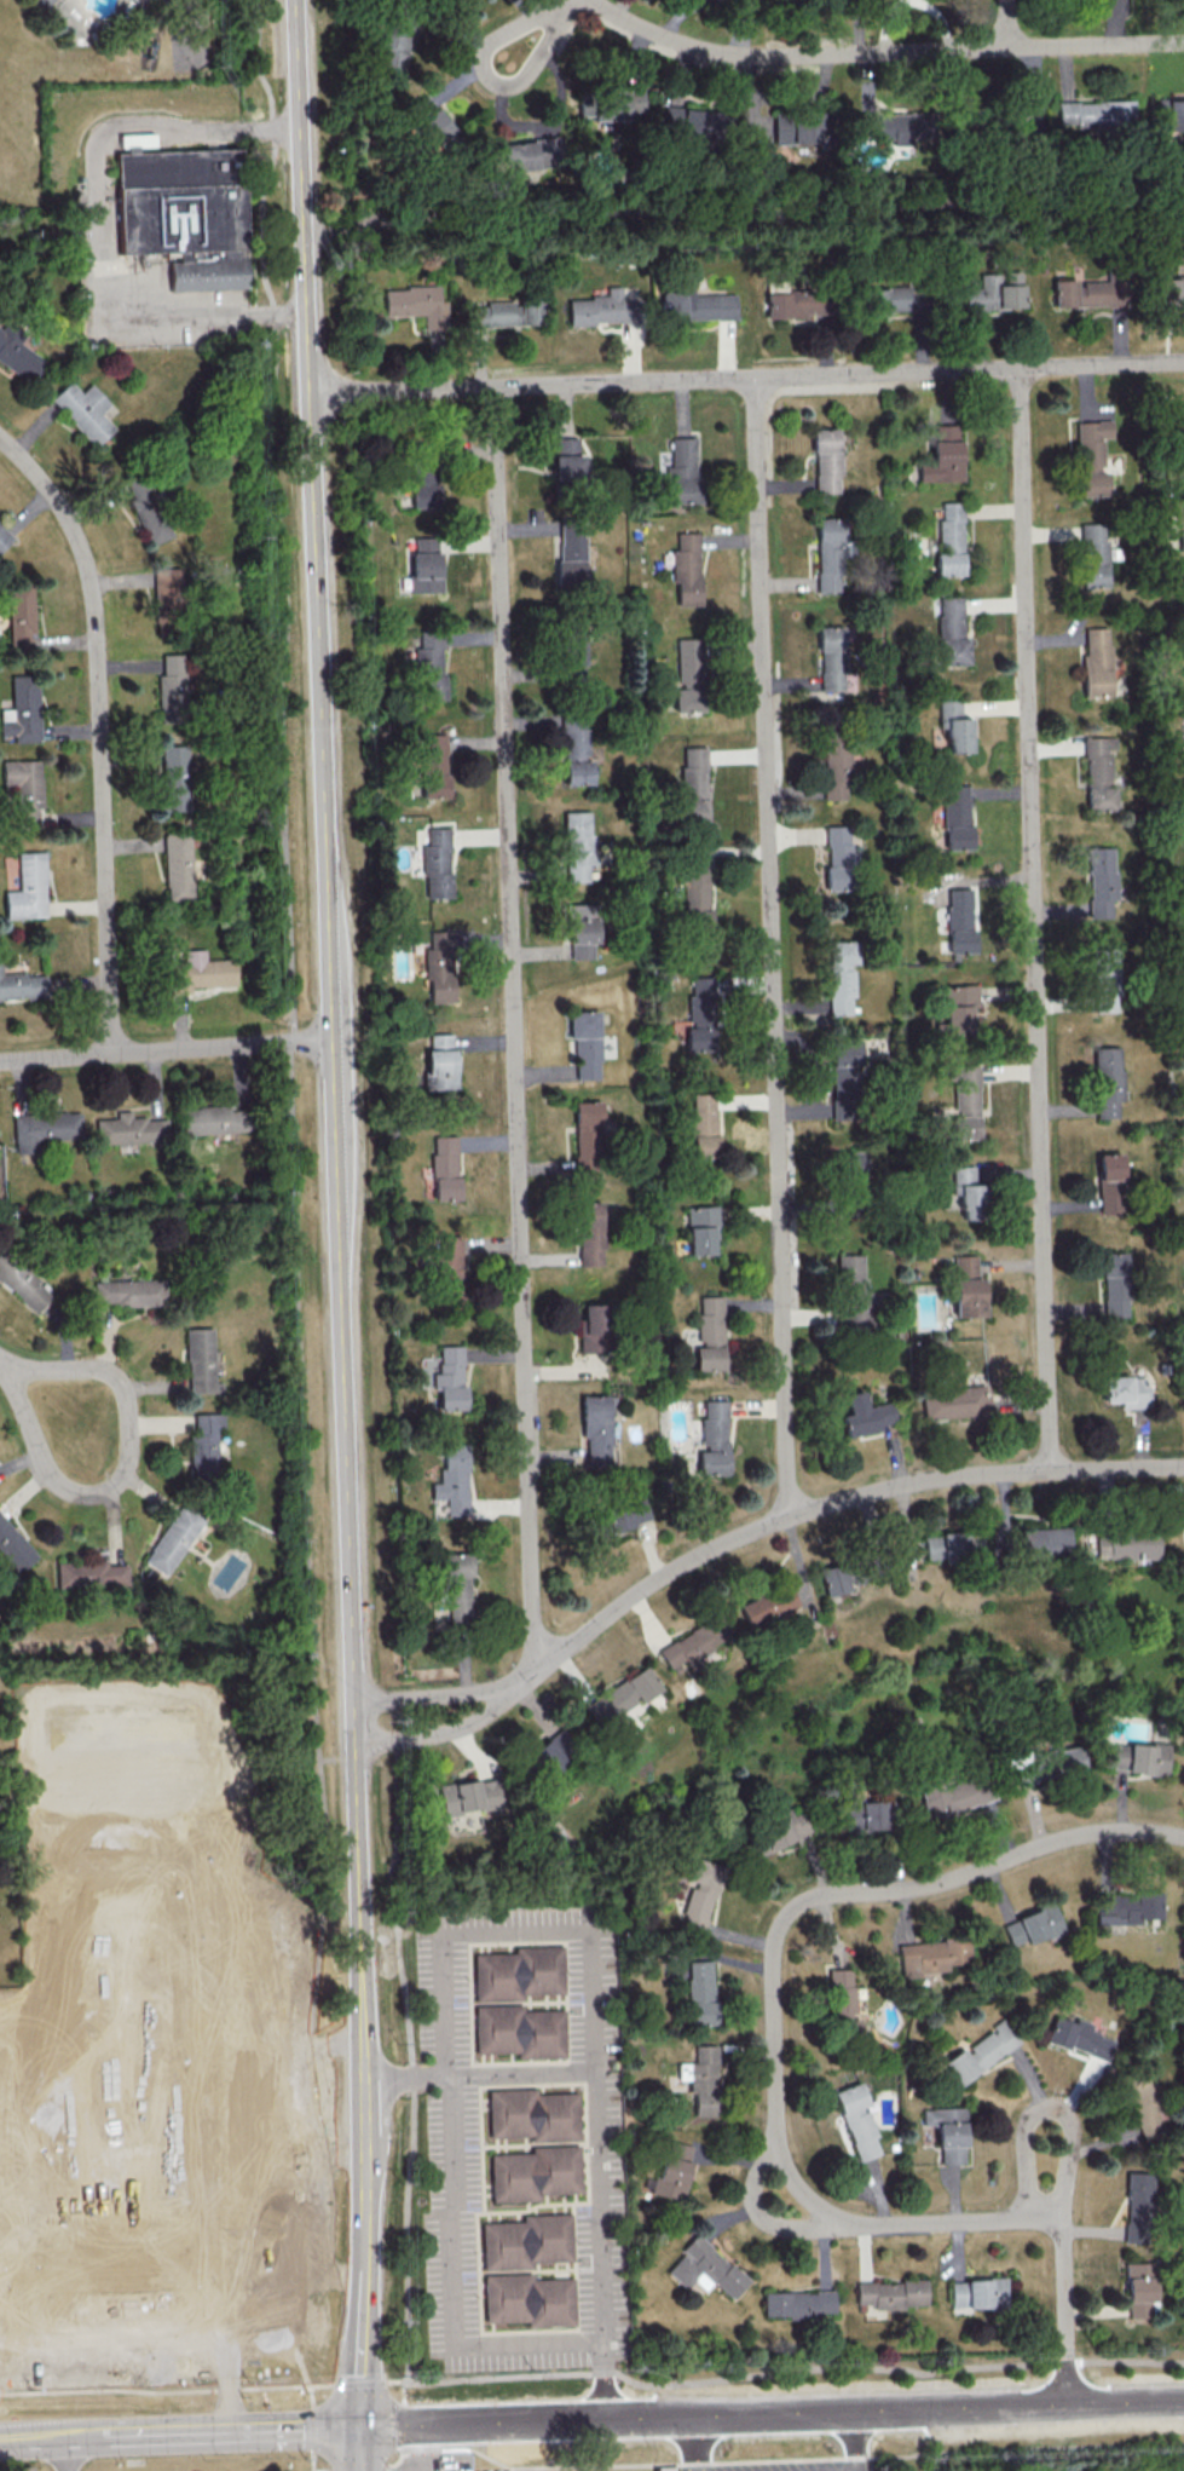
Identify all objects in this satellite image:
building: (41, 2)
road: (561, 5)
road: (1009, 23)
building: (393, 44)
road: (882, 53)
road: (486, 77)
building: (616, 103)
building: (1093, 113)
building: (1171, 113)
building: (429, 119)
building: (700, 121)
building: (888, 126)
building: (797, 127)
building: (525, 154)
building: (183, 209)
road: (744, 214)
road: (102, 219)
building: (1171, 288)
building: (993, 292)
building: (1086, 293)
building: (884, 300)
building: (416, 304)
building: (790, 304)
building: (695, 305)
building: (599, 309)
building: (506, 312)
building: (19, 356)
road: (746, 379)
building: (85, 410)
building: (942, 455)
building: (566, 457)
building: (1096, 457)
building: (830, 465)
building: (687, 471)
building: (424, 485)
building: (148, 512)
building: (4, 536)
building: (949, 537)
building: (1182, 541)
building: (426, 543)
building: (568, 552)
building: (1092, 554)
building: (832, 558)
building: (424, 571)
building: (692, 571)
building: (166, 595)
building: (21, 616)
building: (955, 634)
building: (573, 657)
building: (834, 662)
building: (1103, 663)
building: (429, 668)
building: (694, 679)
building: (172, 687)
building: (21, 712)
building: (953, 726)
road: (102, 732)
building: (576, 753)
building: (433, 765)
building: (836, 767)
building: (1105, 772)
building: (174, 777)
building: (24, 789)
building: (699, 794)
building: (961, 817)
building: (577, 845)
building: (839, 858)
building: (443, 862)
building: (179, 866)
building: (1101, 880)
building: (27, 888)
building: (694, 897)
road: (1034, 918)
building: (968, 922)
building: (581, 938)
road: (772, 946)
building: (439, 964)
building: (198, 972)
building: (1102, 979)
building: (845, 980)
building: (22, 986)
building: (958, 1008)
building: (699, 1013)
road: (514, 1030)
building: (590, 1043)
road: (166, 1050)
building: (445, 1064)
building: (844, 1078)
road: (333, 1084)
building: (1114, 1084)
building: (965, 1102)
building: (212, 1119)
building: (709, 1123)
building: (42, 1129)
building: (129, 1129)
building: (591, 1136)
building: (849, 1162)
building: (444, 1167)
building: (1109, 1182)
building: (966, 1192)
building: (706, 1229)
building: (595, 1235)
building: (449, 1266)
building: (22, 1283)
building: (1114, 1284)
building: (128, 1291)
building: (971, 1291)
building: (854, 1296)
building: (593, 1329)
building: (716, 1337)
building: (200, 1361)
road: (6, 1364)
building: (454, 1382)
building: (1125, 1390)
road: (128, 1400)
building: (951, 1401)
building: (865, 1413)
building: (595, 1428)
road: (33, 1438)
building: (717, 1440)
building: (203, 1445)
building: (452, 1480)
road: (821, 1505)
building: (623, 1514)
building: (171, 1540)
building: (1043, 1542)
building: (1124, 1544)
building: (952, 1545)
building: (12, 1546)
building: (89, 1574)
building: (832, 1579)
building: (457, 1588)
building: (766, 1605)
building: (693, 1642)
road: (429, 1692)
building: (622, 1695)
road: (437, 1730)
building: (554, 1747)
building: (1137, 1756)
building: (1046, 1764)
building: (955, 1795)
building: (464, 1796)
building: (864, 1815)
building: (776, 1831)
building: (699, 1893)
building: (1126, 1907)
building: (1030, 1925)
road: (590, 1952)
building: (931, 1956)
building: (515, 1972)
building: (699, 1992)
road: (214, 2001)
building: (843, 2003)
building: (518, 2031)
building: (1079, 2038)
building: (981, 2051)
road: (775, 2070)
road: (402, 2078)
building: (701, 2079)
road: (1051, 2106)
building: (531, 2114)
building: (856, 2120)
building: (947, 2132)
building: (671, 2168)
building: (533, 2172)
building: (1137, 2206)
road: (761, 2214)
building: (525, 2241)
building: (705, 2269)
road: (13, 2281)
road: (450, 2283)
building: (1139, 2289)
building: (890, 2293)
building: (977, 2293)
road: (364, 2299)
building: (527, 2299)
road: (6, 2300)
building: (798, 2303)
road: (10, 2362)
road: (19, 2365)
road: (782, 2371)
road: (359, 2383)
road: (167, 2391)
road: (312, 2396)
road: (1052, 2406)
road: (762, 2413)
road: (483, 2424)
traffic signals: (360, 2429)
road: (313, 2430)
road: (214, 2432)
road: (35, 2438)
road: (854, 2441)
road: (693, 2443)
road: (422, 2448)
road: (360, 2449)
road: (70, 2454)
road: (801, 2458)
road: (312, 2463)
parking lot: (789, 2466)
building: (666, 2469)
building: (18, 2470)

